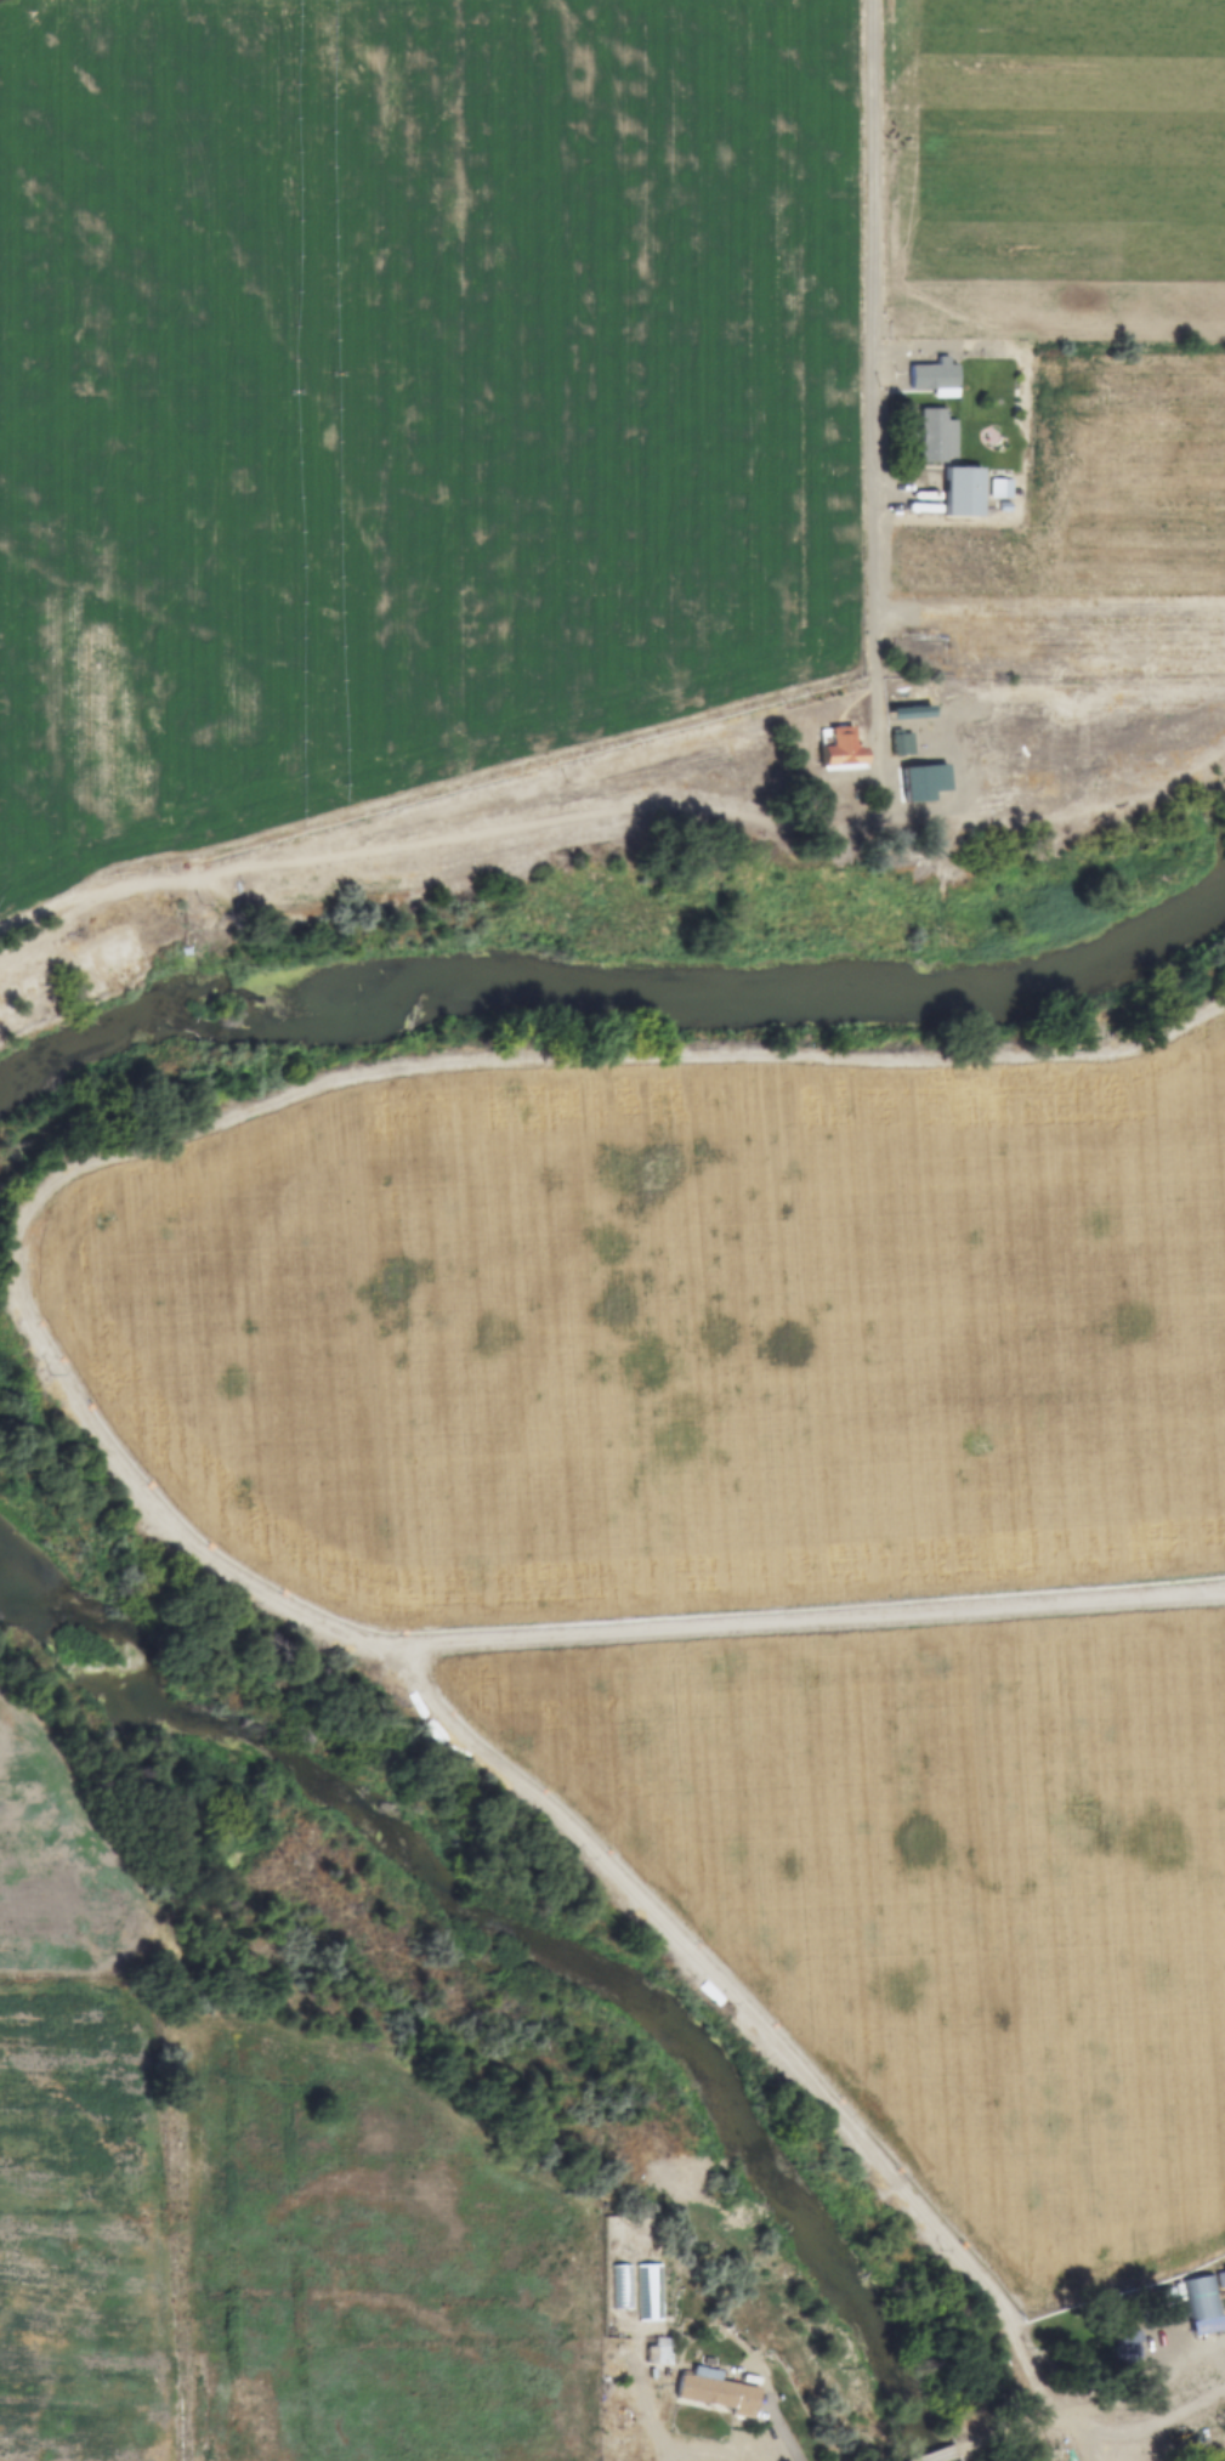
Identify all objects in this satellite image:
road: (868, 372)
building: (934, 378)
building: (936, 437)
building: (960, 494)
building: (900, 743)
building: (840, 749)
building: (1164, 2303)
building: (1200, 2306)
building: (1125, 2347)
building: (658, 2353)
building: (714, 2394)
road: (1091, 2422)
road: (1084, 2443)
road: (945, 2456)

